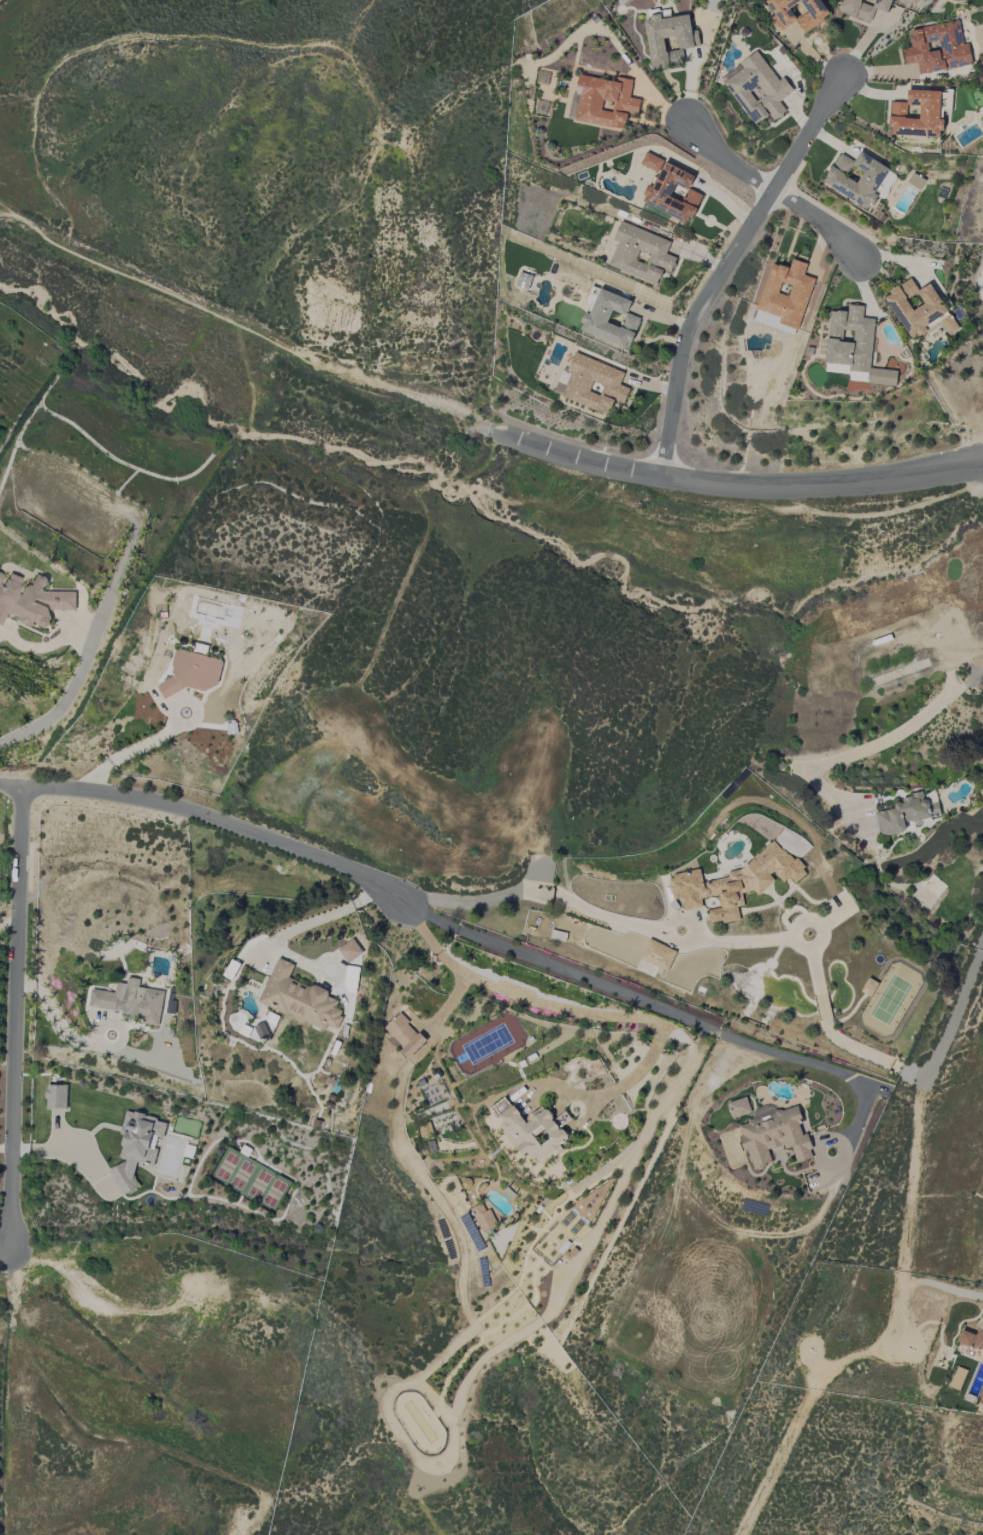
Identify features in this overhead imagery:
building: (864, 8)
building: (797, 13)
building: (669, 39)
building: (937, 48)
building: (758, 89)
building: (946, 100)
building: (605, 102)
building: (917, 114)
road: (726, 161)
building: (651, 162)
building: (856, 178)
building: (916, 181)
building: (672, 193)
road: (815, 219)
building: (640, 253)
road: (726, 267)
building: (523, 281)
building: (786, 293)
building: (919, 309)
road: (241, 319)
building: (610, 319)
building: (854, 346)
building: (593, 384)
road: (728, 482)
building: (0, 576)
building: (32, 601)
building: (191, 673)
road: (66, 695)
road: (867, 746)
building: (905, 814)
road: (209, 822)
building: (736, 882)
road: (317, 920)
road: (691, 937)
building: (350, 951)
building: (657, 954)
building: (298, 999)
building: (130, 1001)
road: (558, 1003)
road: (657, 1008)
road: (14, 1013)
road: (951, 1024)
building: (404, 1035)
building: (56, 1096)
building: (739, 1107)
building: (534, 1132)
building: (774, 1135)
building: (136, 1148)
road: (57, 1151)
building: (482, 1216)
road: (3, 1247)
road: (891, 1335)
building: (972, 1339)
building: (981, 1398)

